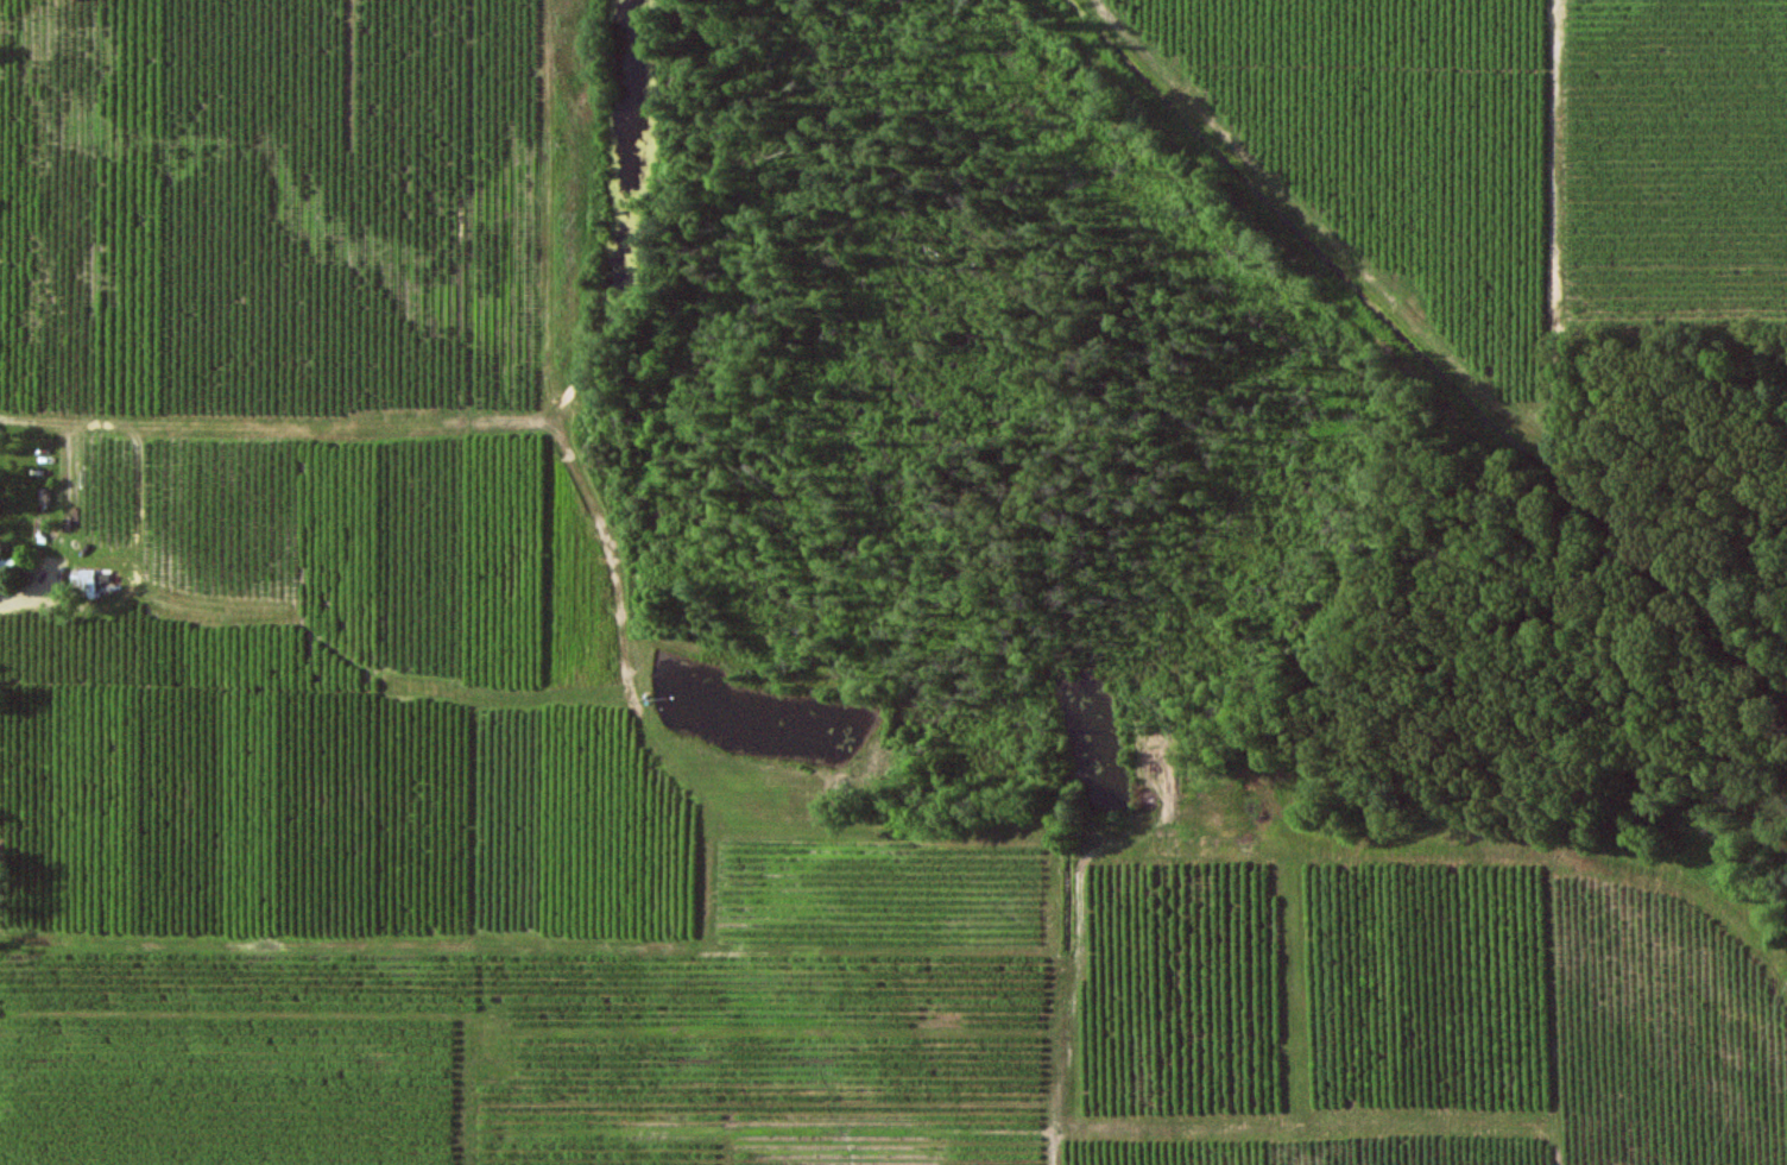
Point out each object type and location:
road: (1469, 366)
building: (6, 566)
building: (83, 578)

